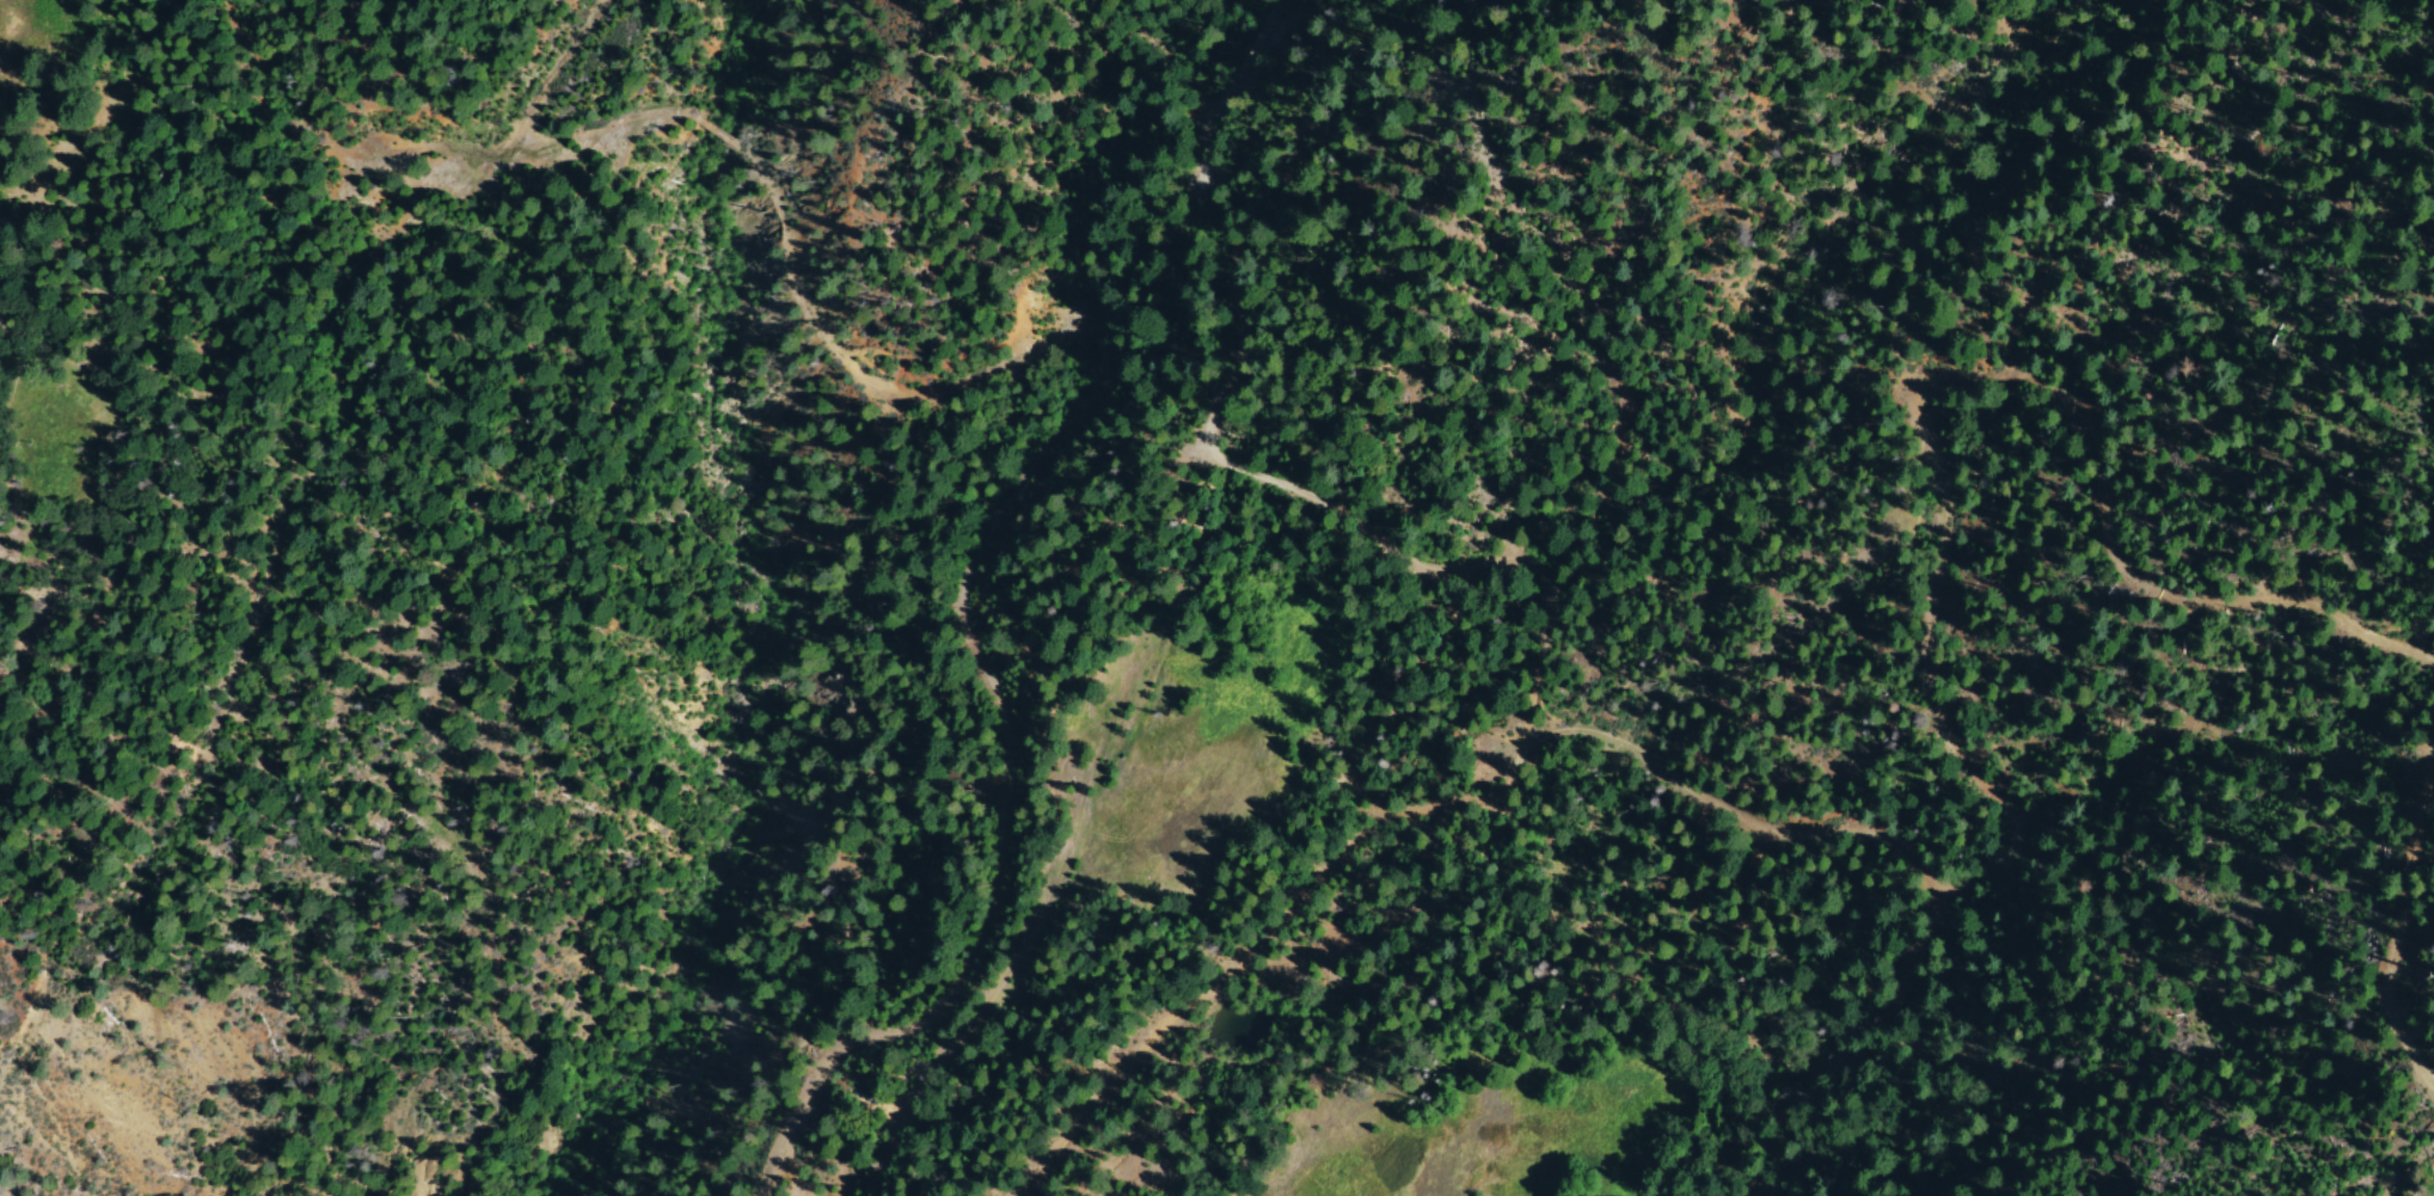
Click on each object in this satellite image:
road: (633, 121)
road: (716, 134)
road: (1964, 376)
road: (986, 546)

